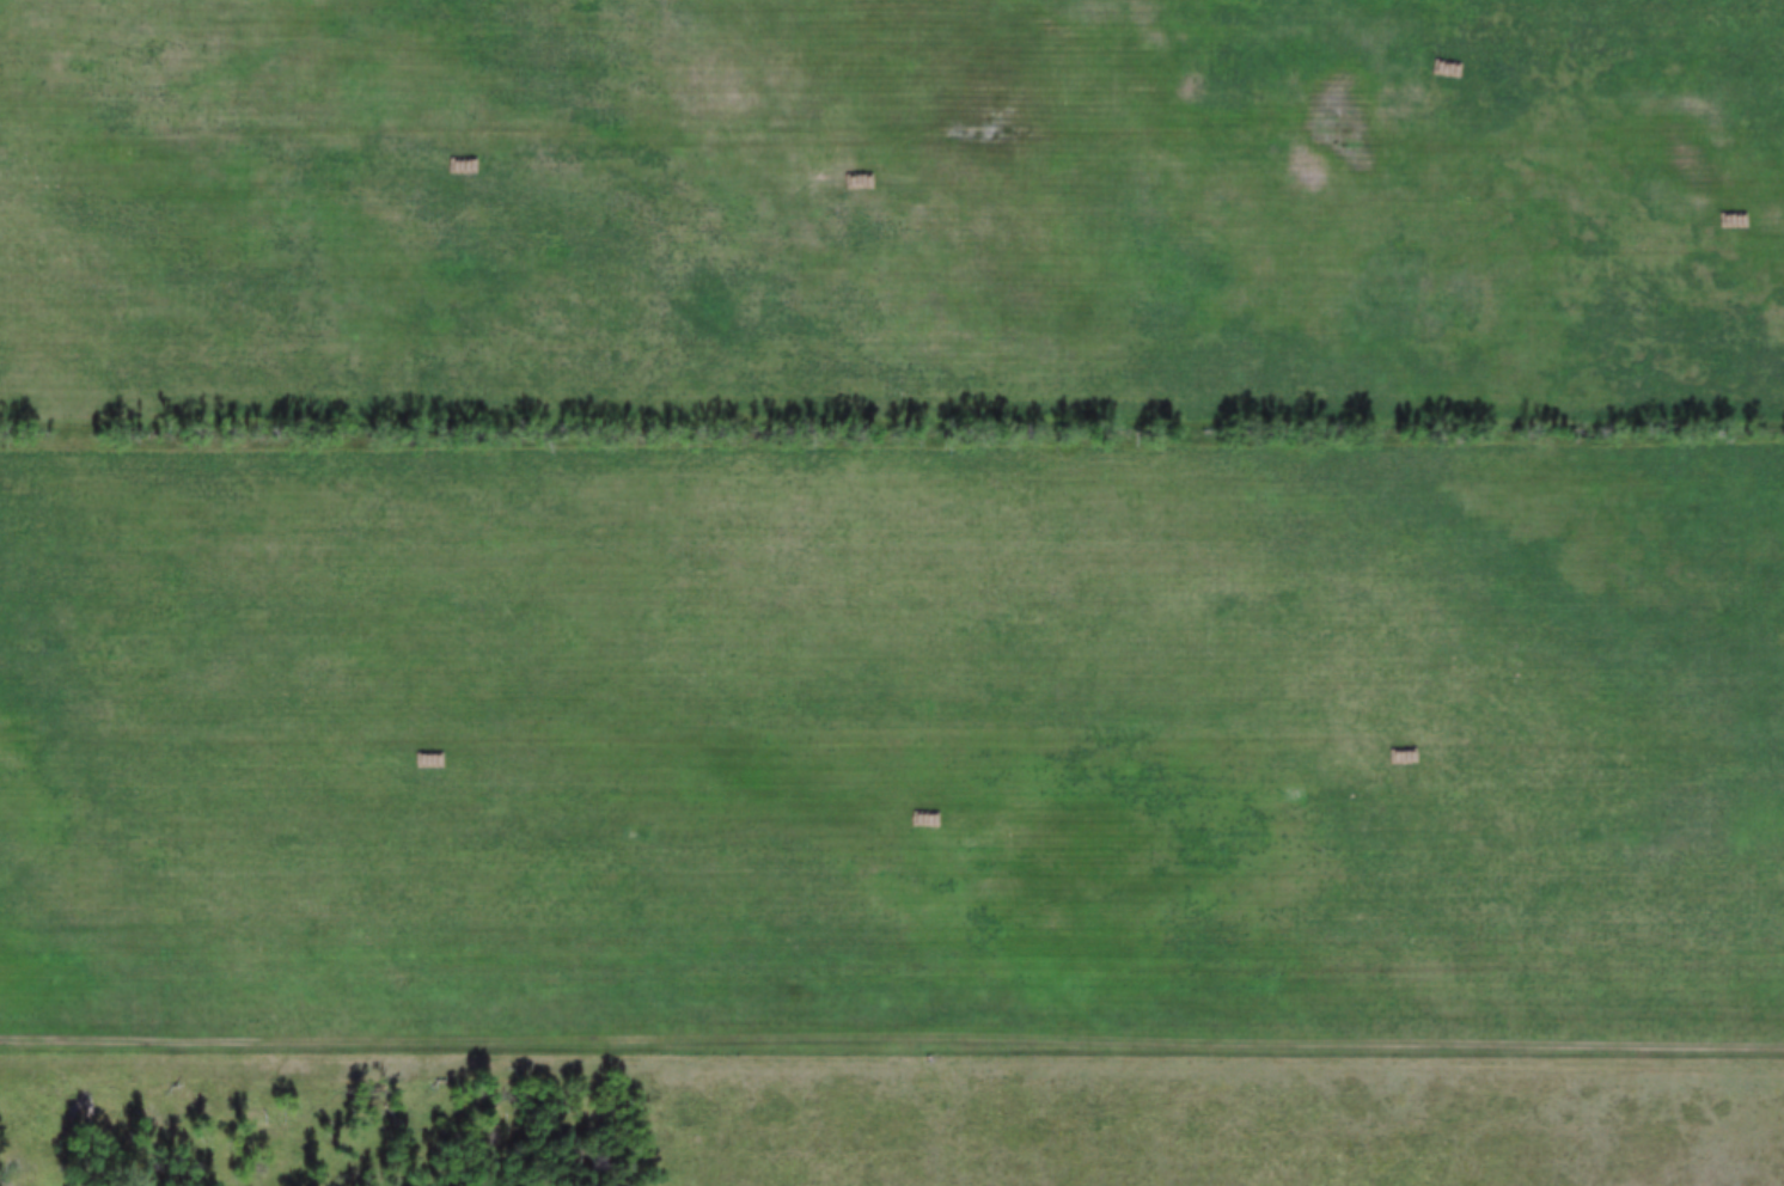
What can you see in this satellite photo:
road: (892, 1044)

